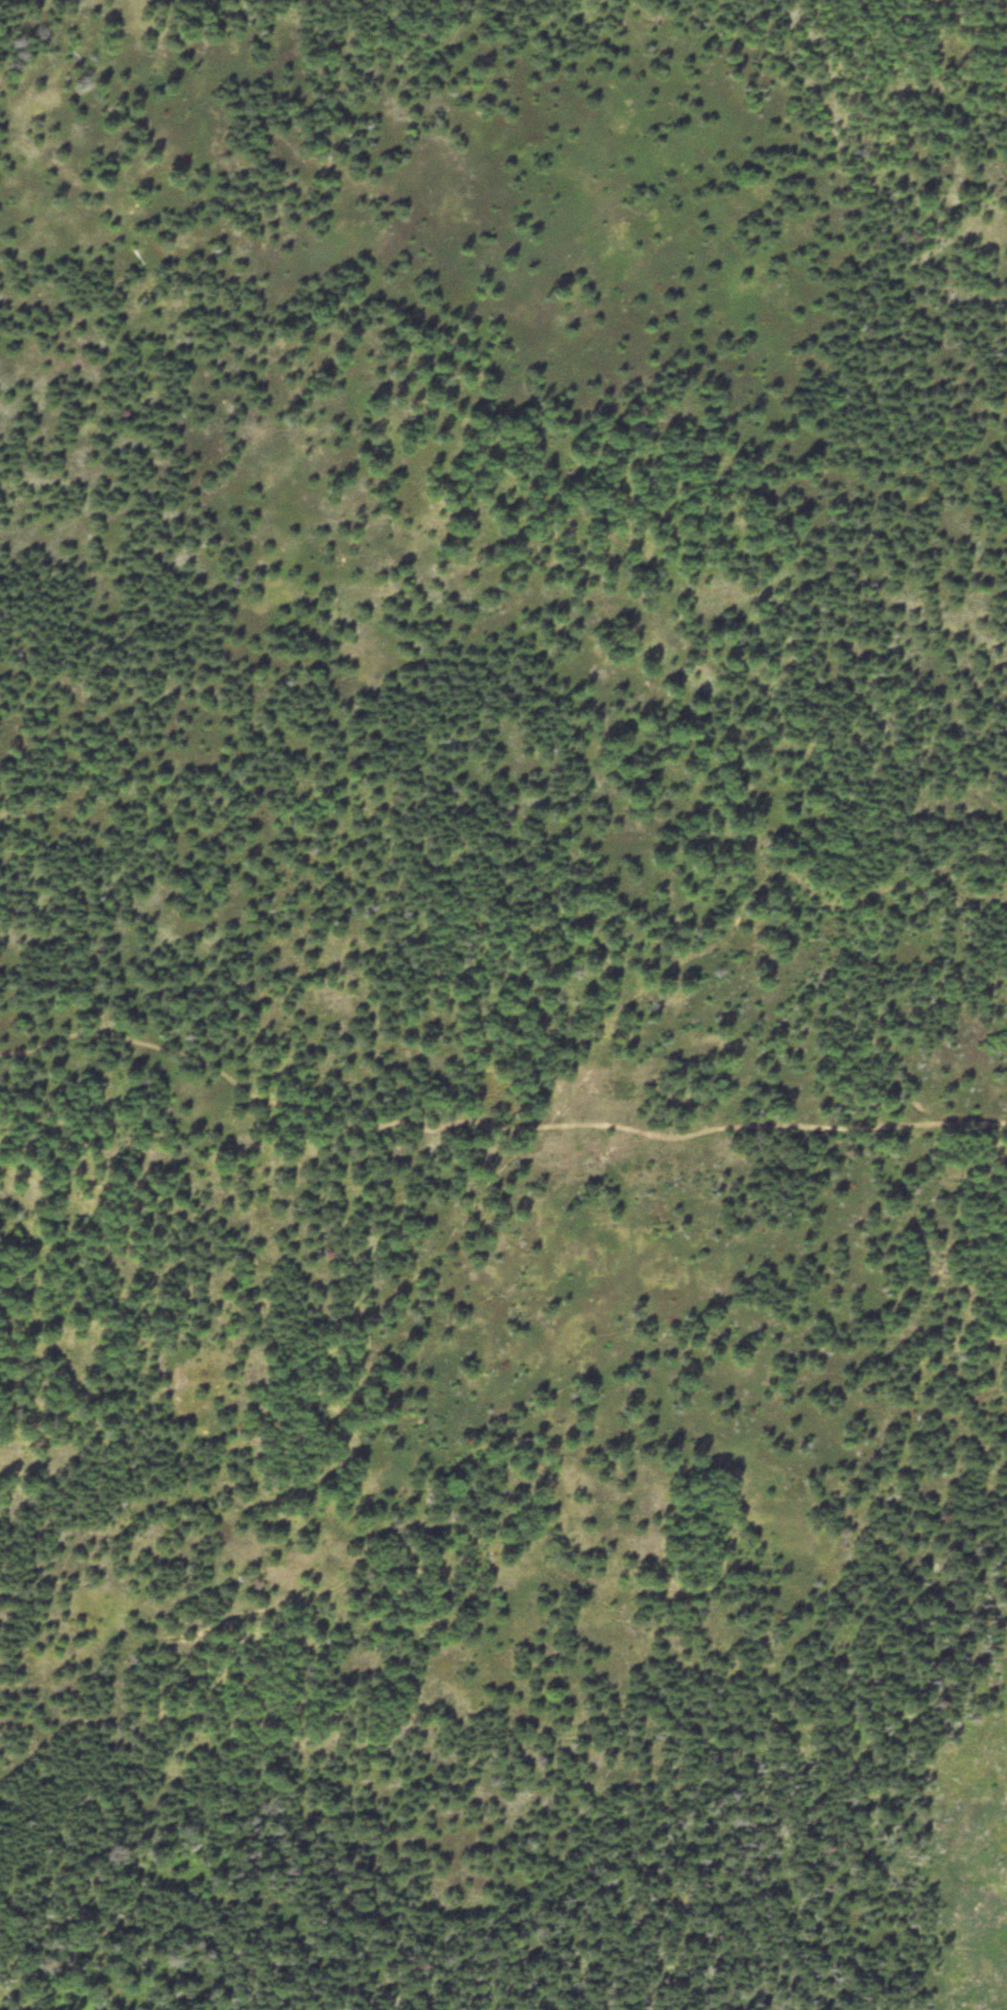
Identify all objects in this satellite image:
road: (424, 1126)
road: (939, 1127)

